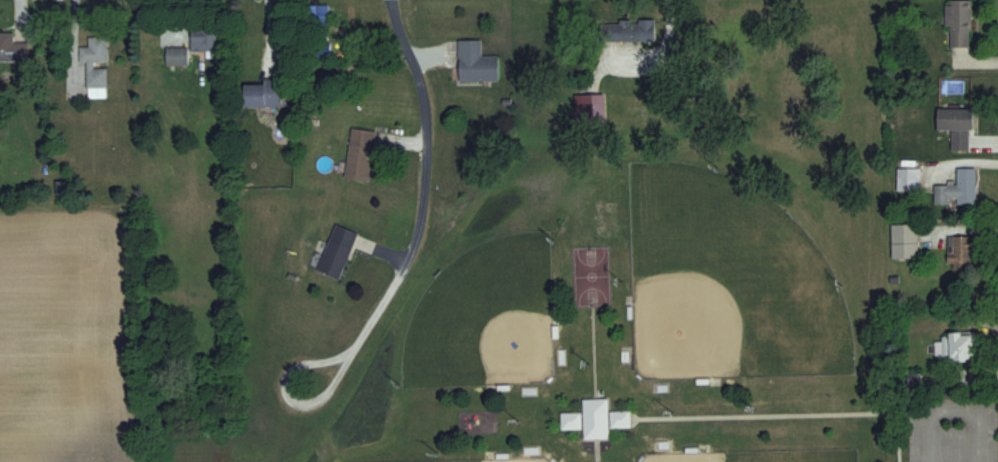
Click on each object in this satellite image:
building: (319, 16)
building: (959, 23)
building: (627, 30)
building: (204, 39)
building: (320, 45)
building: (12, 48)
building: (177, 55)
building: (476, 62)
building: (96, 65)
building: (264, 93)
building: (589, 108)
building: (957, 126)
building: (360, 154)
building: (909, 179)
road: (420, 189)
building: (958, 189)
building: (905, 241)
building: (337, 250)
building: (960, 251)
park: (591, 271)
park: (729, 281)
park: (487, 316)
building: (956, 346)
road: (284, 376)
building: (596, 418)
park: (755, 455)
park: (486, 459)

